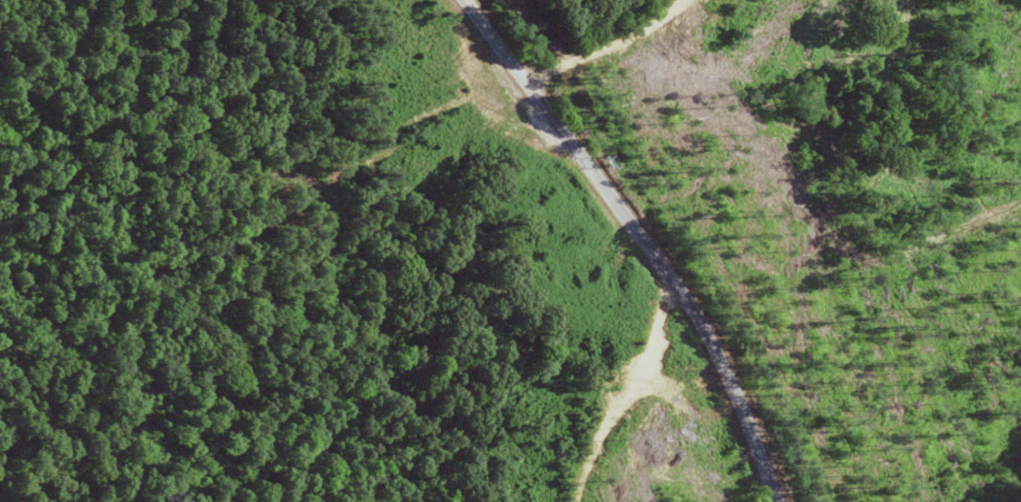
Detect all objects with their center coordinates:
road: (639, 245)

